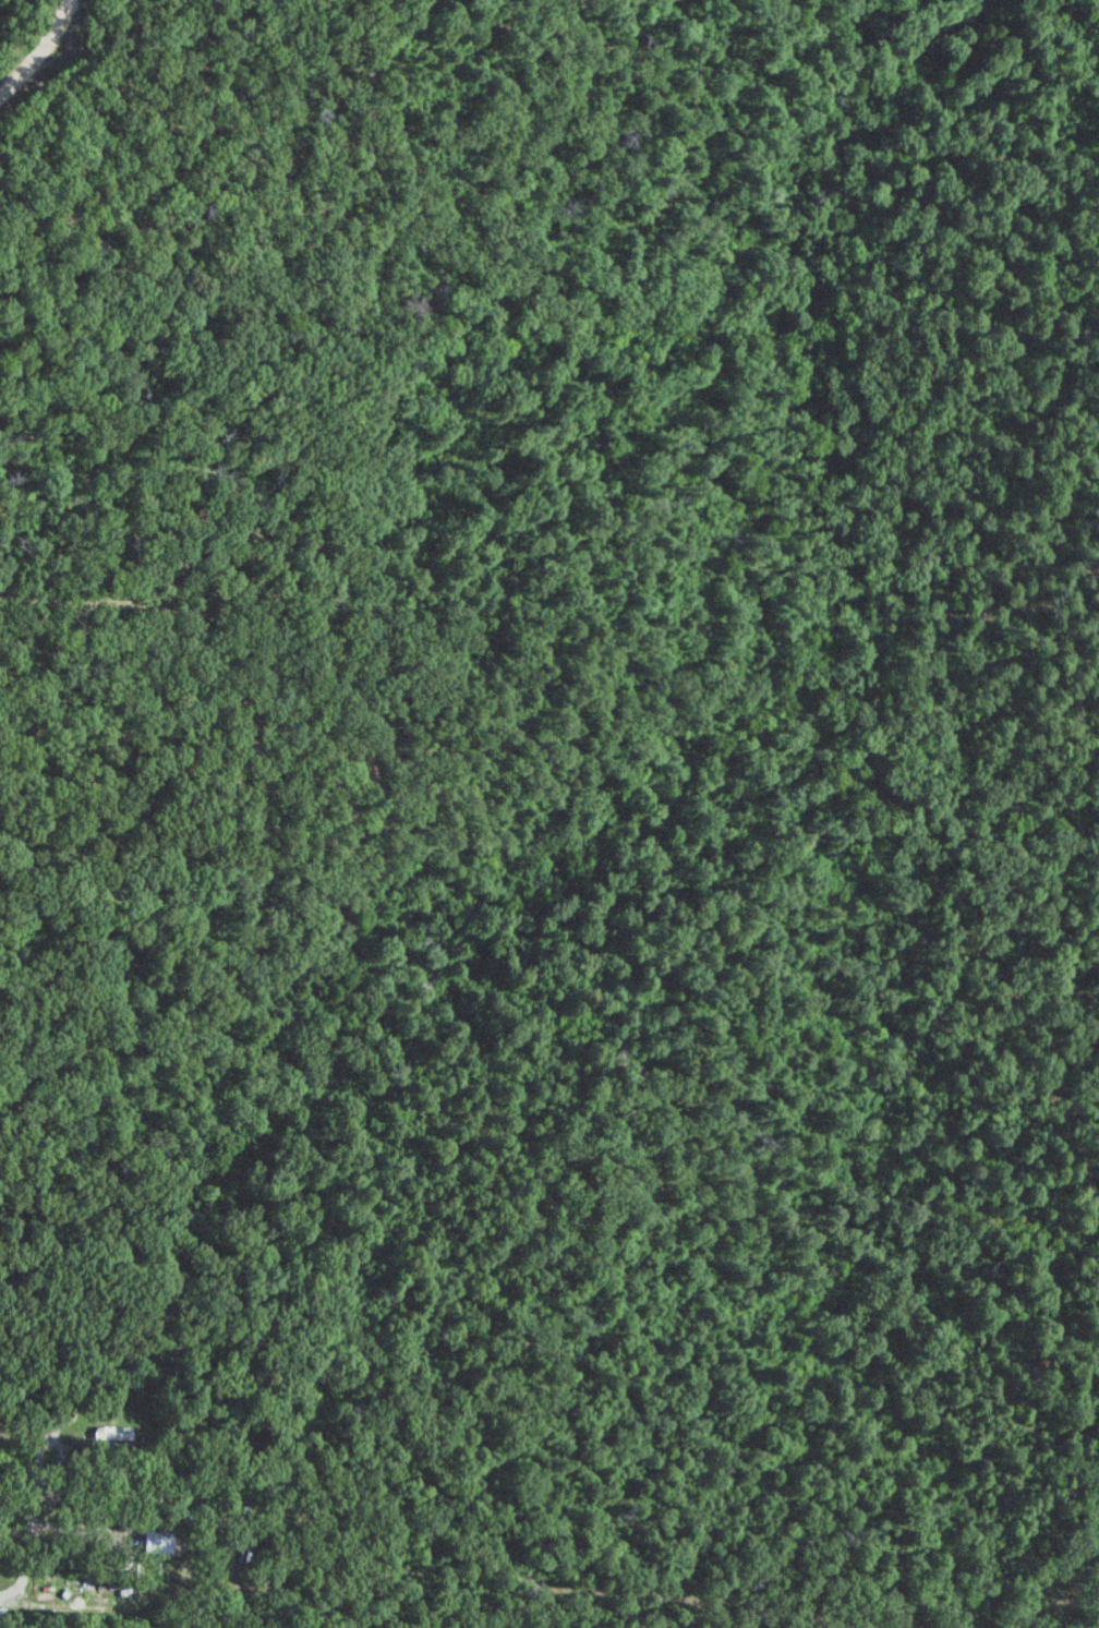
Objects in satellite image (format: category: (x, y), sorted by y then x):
road: (10, 15)
building: (112, 1434)
building: (157, 1541)
road: (59, 1570)

